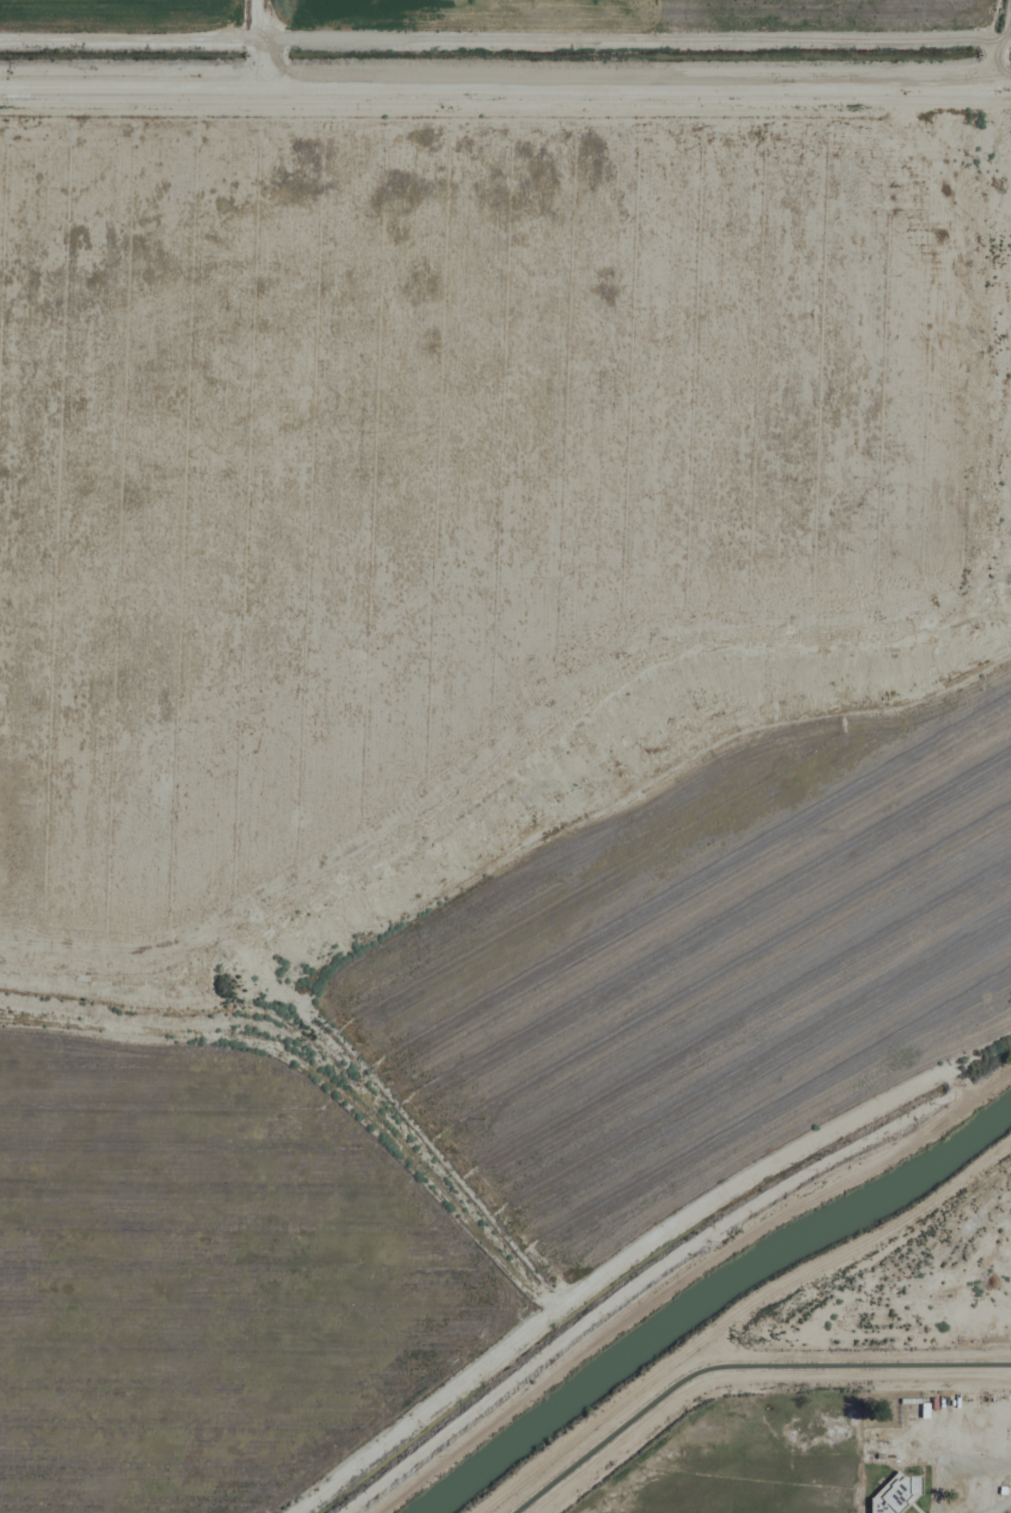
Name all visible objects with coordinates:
crop: (505, 756)
building: (893, 1494)

